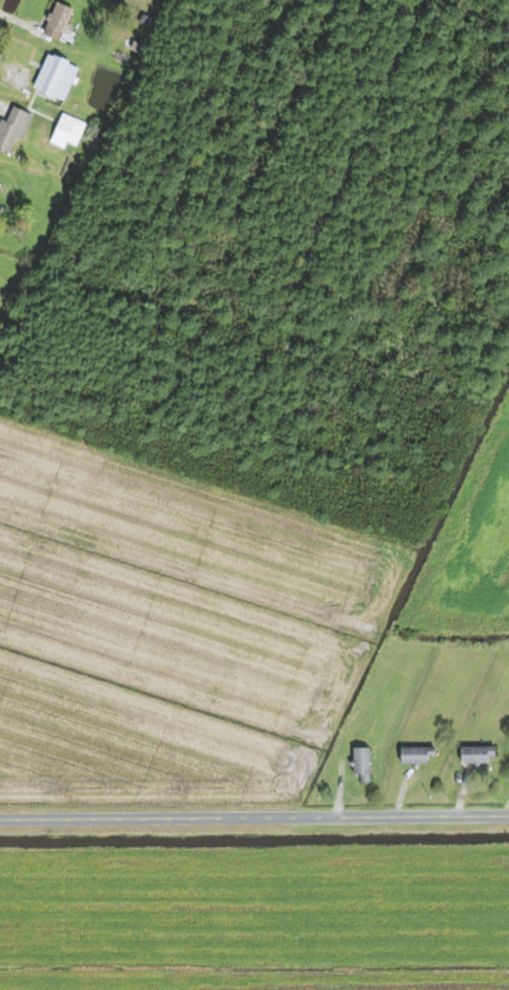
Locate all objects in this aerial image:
building: (57, 20)
building: (55, 77)
building: (13, 128)
building: (69, 129)
building: (417, 754)
building: (475, 754)
building: (361, 763)
road: (254, 820)

